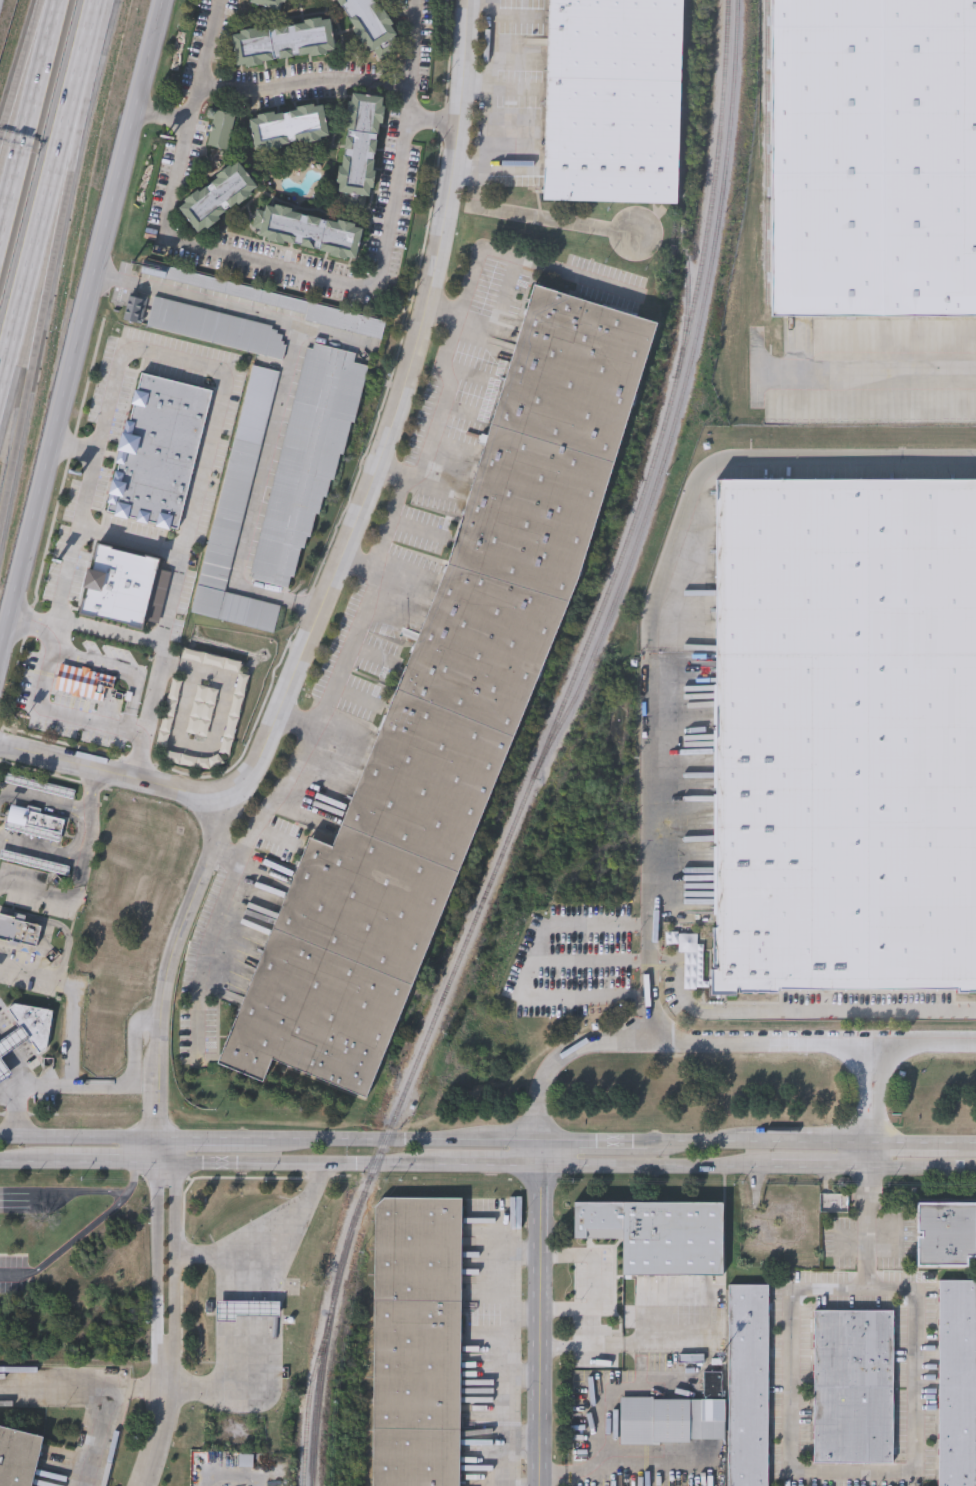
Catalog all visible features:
building: (268, 4)
building: (369, 22)
road: (37, 29)
road: (84, 42)
building: (282, 43)
road: (304, 80)
road: (11, 97)
building: (612, 101)
road: (487, 103)
road: (28, 115)
road: (160, 117)
road: (432, 121)
building: (288, 128)
building: (220, 129)
road: (71, 130)
railway: (770, 140)
building: (359, 145)
building: (874, 156)
railway: (684, 188)
road: (479, 194)
building: (217, 199)
road: (540, 220)
road: (36, 232)
building: (310, 233)
road: (528, 260)
road: (294, 270)
building: (284, 303)
building: (135, 308)
road: (81, 322)
building: (216, 327)
road: (36, 341)
road: (147, 351)
road: (881, 368)
road: (442, 385)
railway: (683, 394)
road: (280, 395)
road: (75, 447)
building: (158, 452)
road: (741, 457)
building: (307, 458)
road: (397, 509)
building: (236, 510)
road: (355, 522)
road: (134, 541)
building: (124, 588)
road: (32, 623)
road: (355, 628)
road: (112, 633)
building: (83, 680)
building: (447, 711)
building: (845, 736)
railway: (544, 749)
building: (40, 785)
road: (281, 792)
road: (3, 794)
road: (47, 803)
building: (35, 821)
road: (41, 853)
building: (34, 861)
road: (79, 875)
building: (19, 930)
road: (649, 939)
road: (172, 961)
road: (528, 969)
road: (72, 997)
building: (34, 1023)
building: (12, 1040)
gas station: (12, 1040)
road: (812, 1040)
road: (922, 1040)
building: (4, 1070)
gas station: (4, 1070)
road: (96, 1083)
road: (10, 1095)
road: (81, 1135)
road: (216, 1138)
road: (402, 1141)
road: (592, 1143)
road: (758, 1143)
road: (915, 1147)
road: (969, 1148)
road: (170, 1150)
road: (160, 1151)
road: (868, 1157)
road: (27, 1163)
road: (106, 1163)
road: (166, 1164)
road: (308, 1164)
road: (489, 1165)
road: (654, 1167)
road: (819, 1168)
road: (922, 1169)
road: (65, 1192)
road: (94, 1224)
building: (945, 1232)
building: (658, 1233)
road: (265, 1237)
road: (176, 1264)
road: (158, 1265)
road: (17, 1274)
road: (592, 1282)
parking lot: (593, 1310)
road: (538, 1314)
road: (592, 1328)
building: (415, 1341)
road: (635, 1347)
building: (957, 1381)
building: (747, 1383)
road: (225, 1386)
building: (854, 1386)
road: (603, 1389)
road: (55, 1393)
railway: (309, 1399)
road: (105, 1410)
building: (671, 1420)
road: (159, 1425)
building: (17, 1457)
road: (626, 1470)
road: (907, 1475)
road: (231, 1484)

